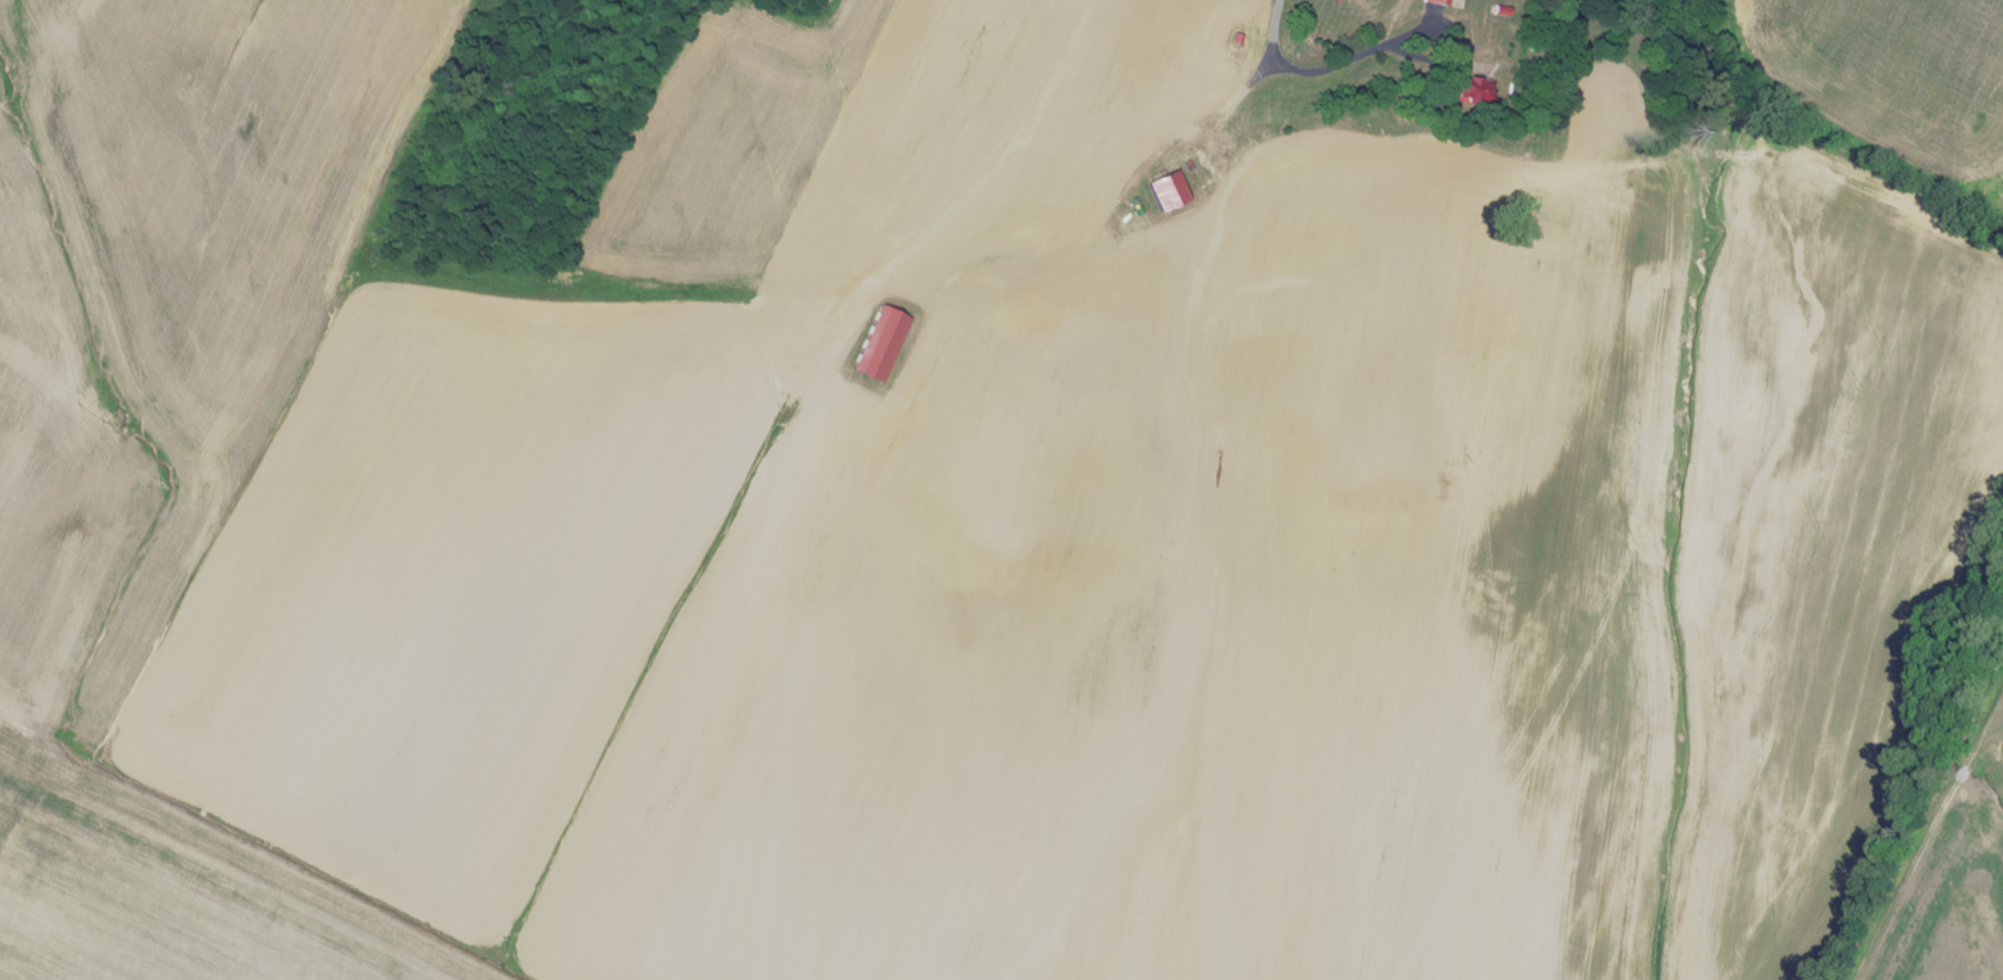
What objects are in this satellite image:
building: (1451, 3)
road: (1276, 37)
building: (1176, 192)
building: (889, 344)

